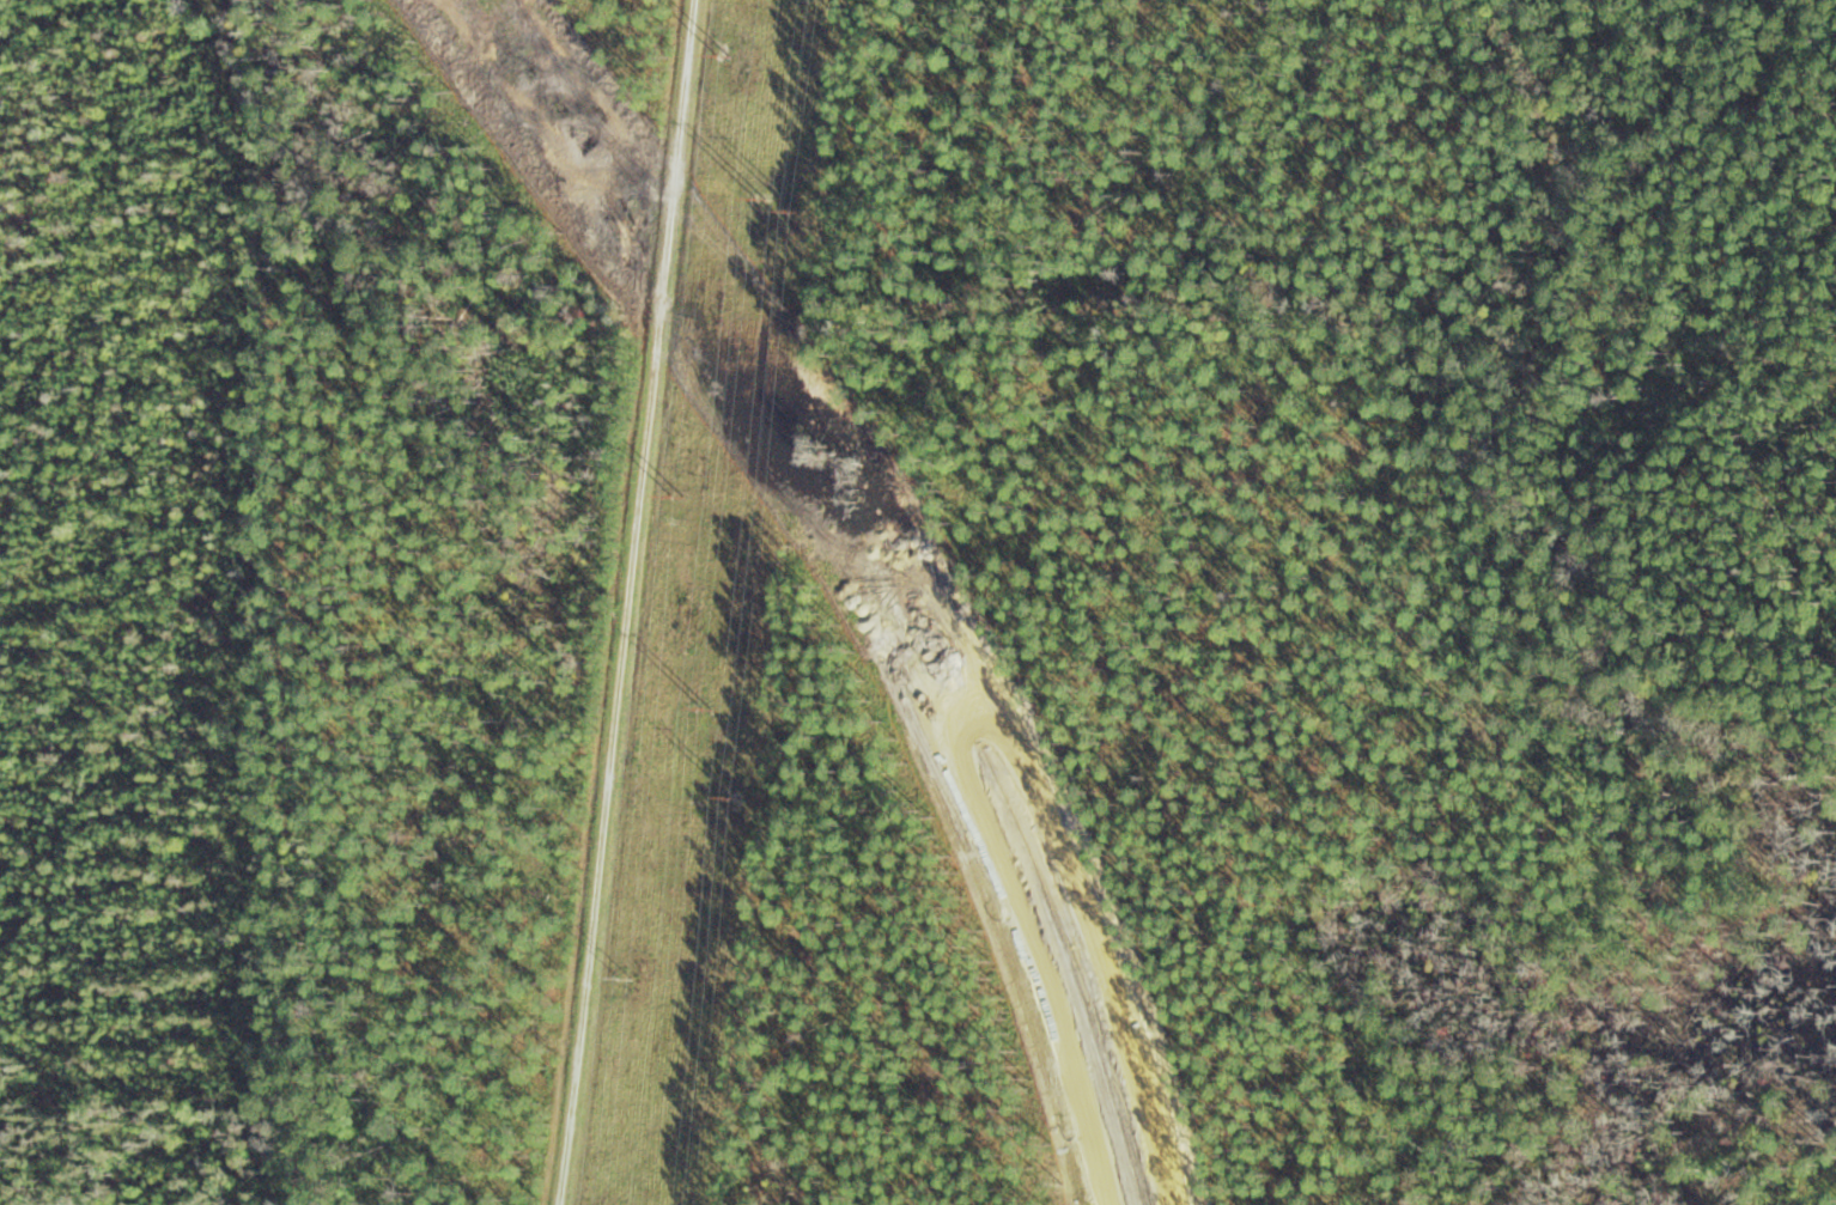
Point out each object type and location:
power tower: (723, 44)
power tower: (795, 233)
power tower: (752, 282)
power tower: (674, 519)
power tower: (736, 796)
power tower: (697, 804)
power tower: (624, 979)

